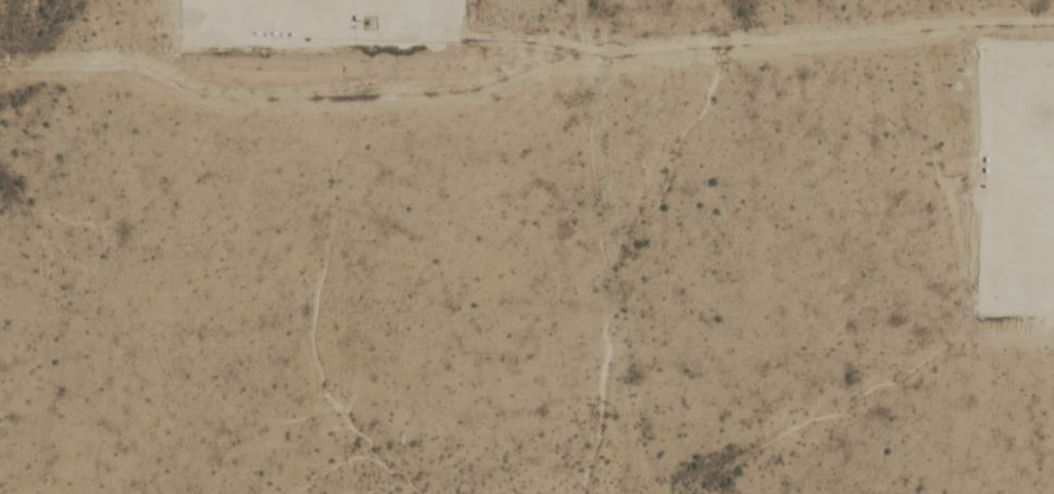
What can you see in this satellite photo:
road: (1046, 239)

